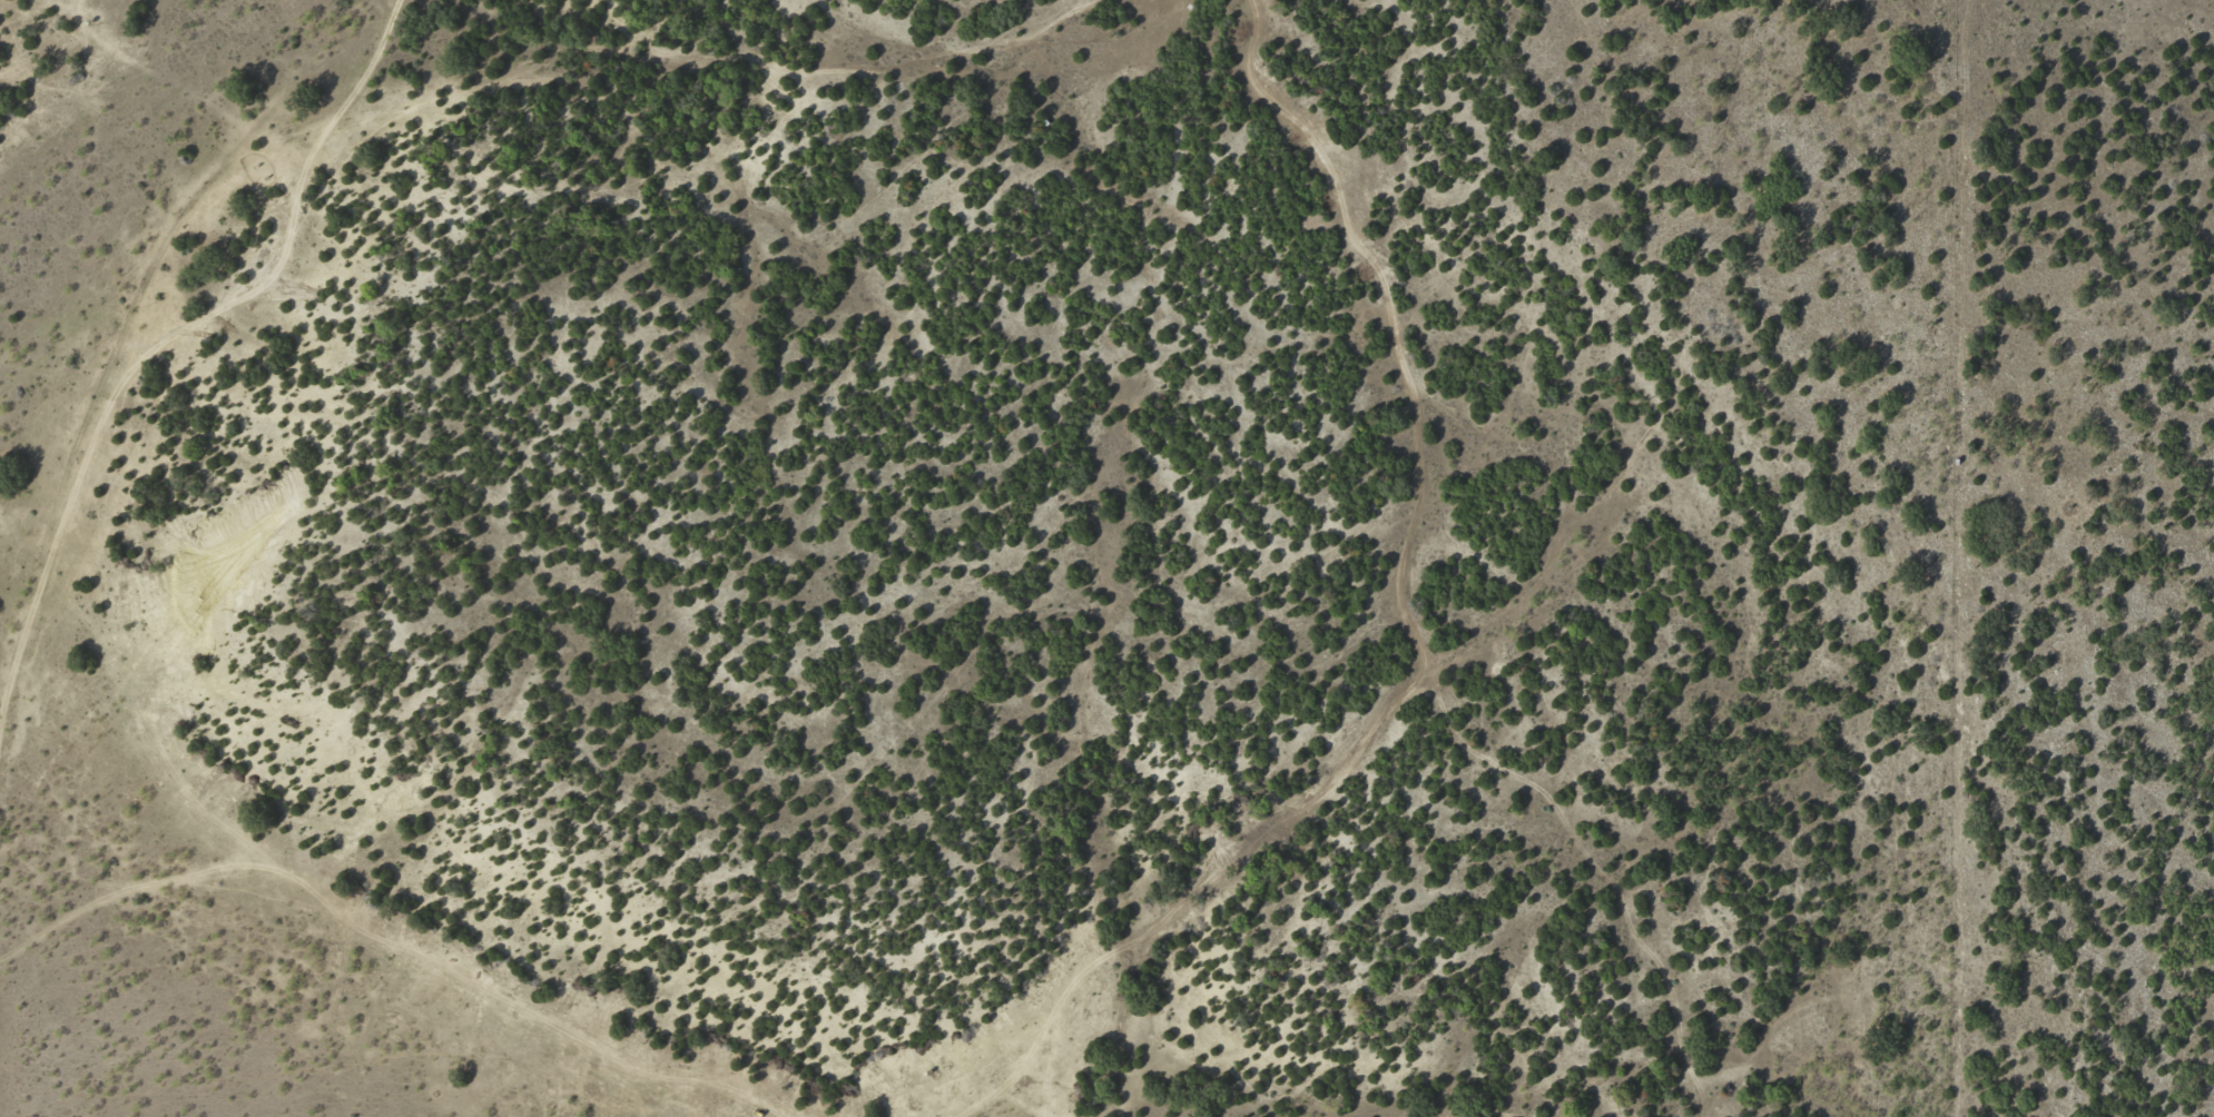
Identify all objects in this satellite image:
road: (193, 256)
road: (982, 1089)

